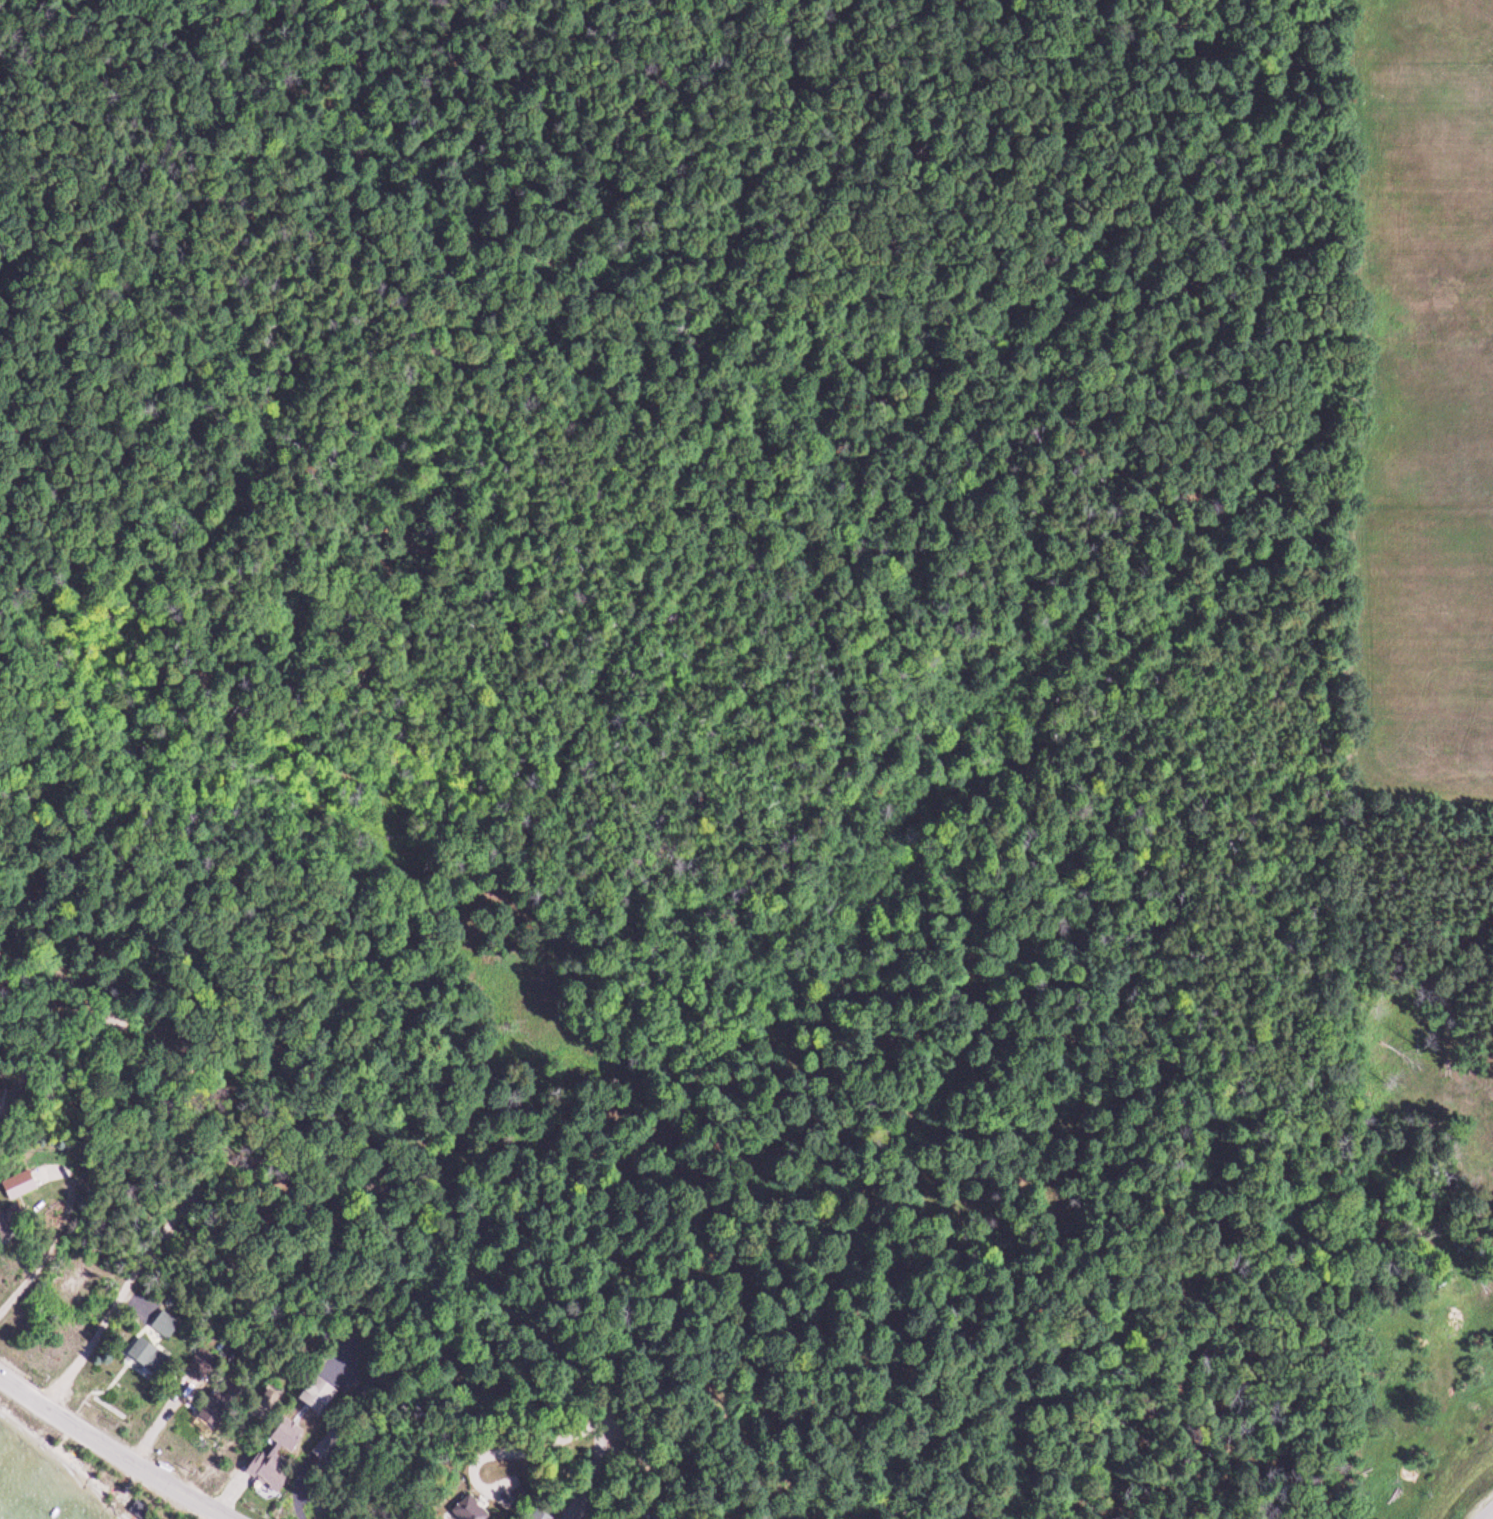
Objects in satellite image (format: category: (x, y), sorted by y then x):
road: (59, 1041)
road: (198, 1140)
building: (16, 1187)
building: (4, 1225)
road: (506, 1302)
building: (160, 1326)
building: (146, 1356)
building: (314, 1395)
road: (109, 1452)
building: (273, 1457)
road: (647, 1472)
road: (595, 1473)
road: (1477, 1504)
building: (133, 1511)
building: (540, 1517)

